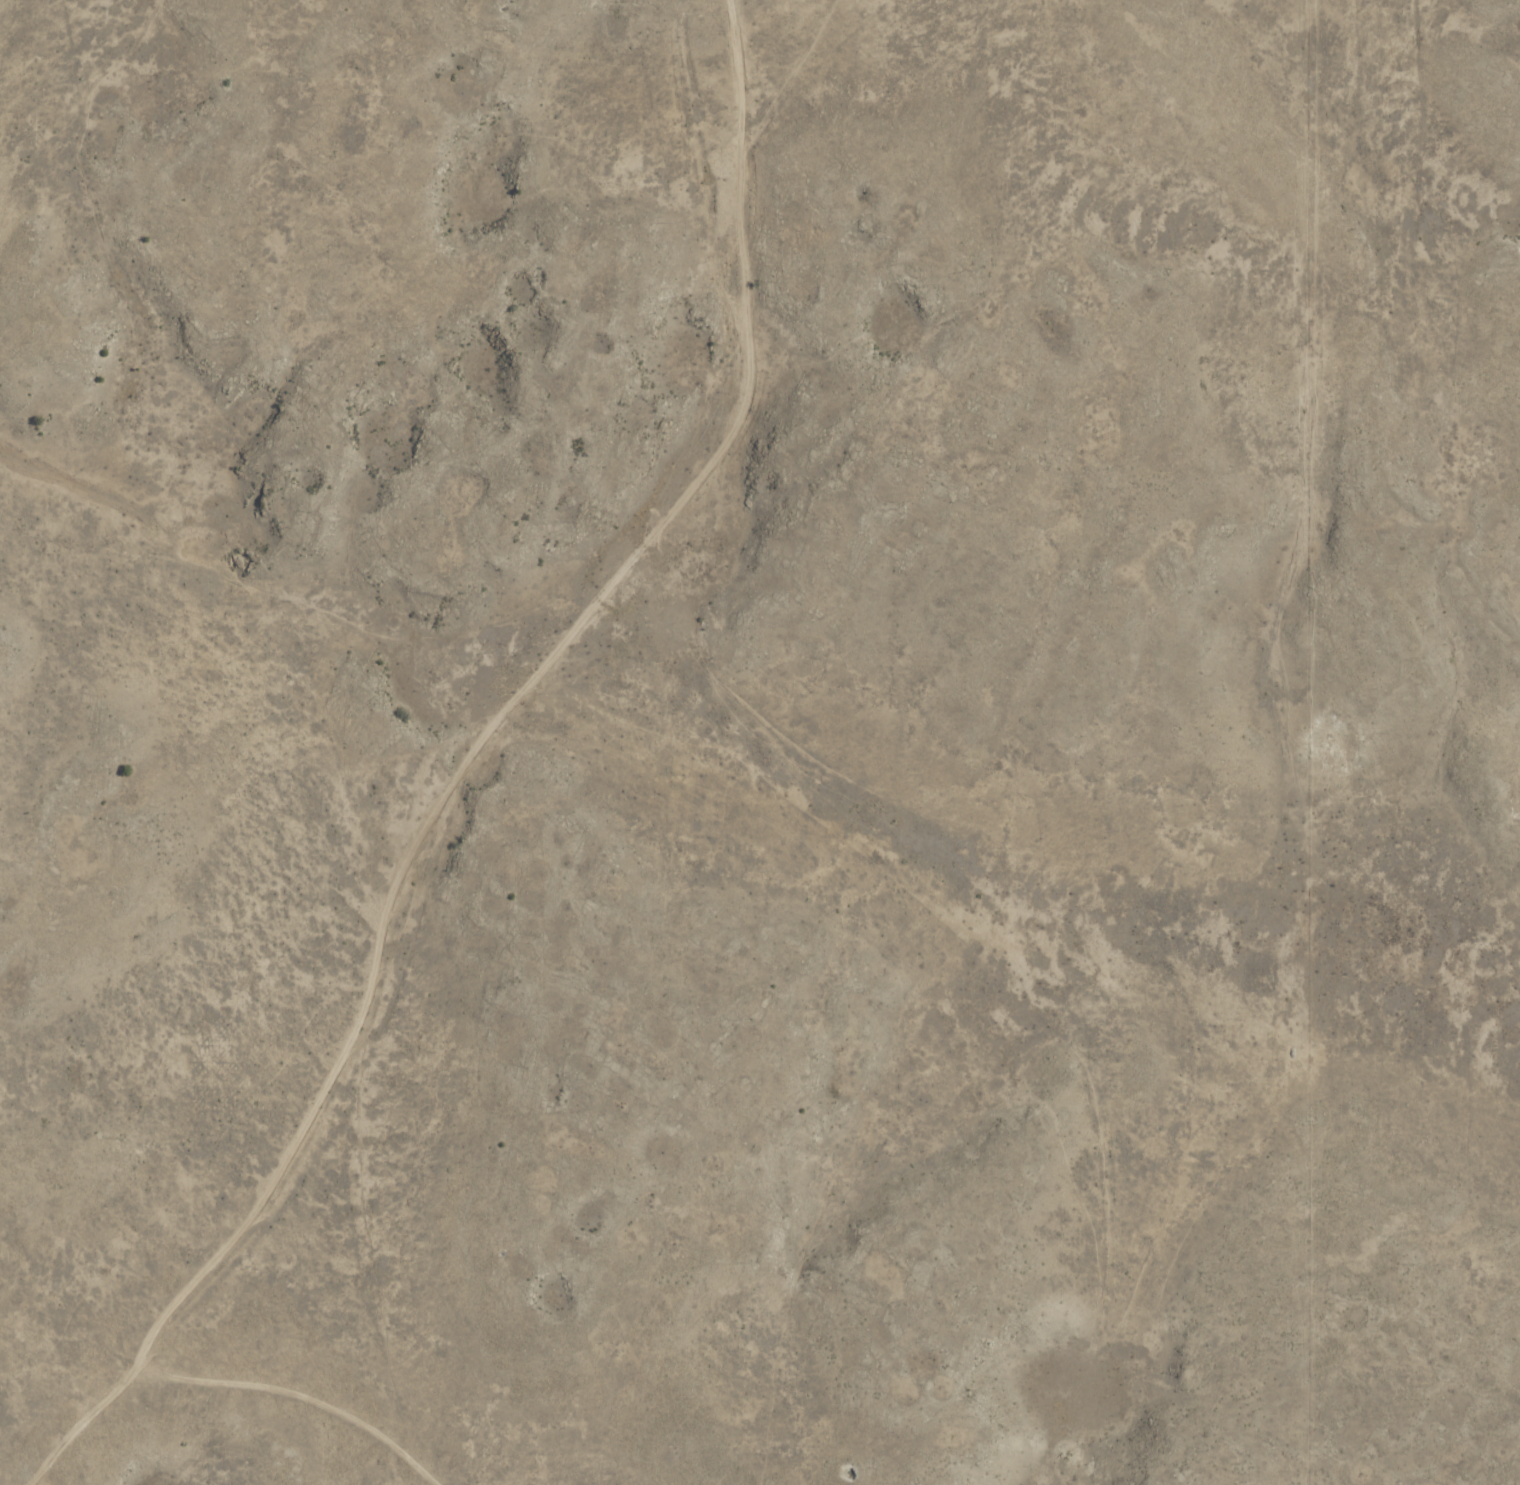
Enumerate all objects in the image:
road: (471, 760)
road: (1425, 1338)

